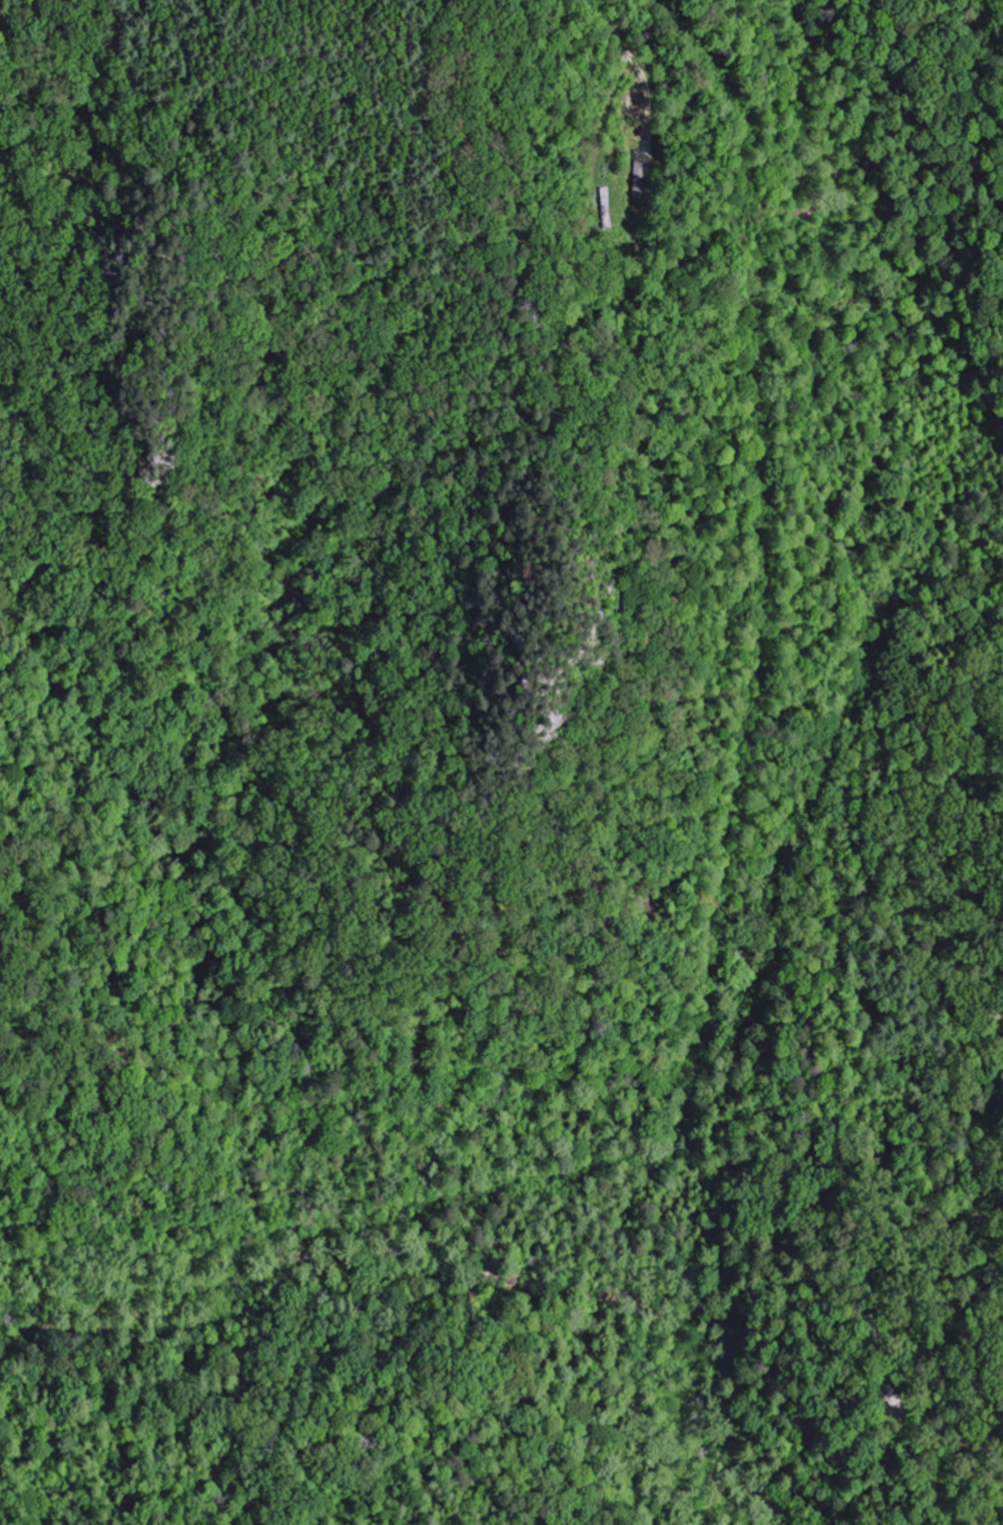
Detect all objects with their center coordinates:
road: (94, 972)

